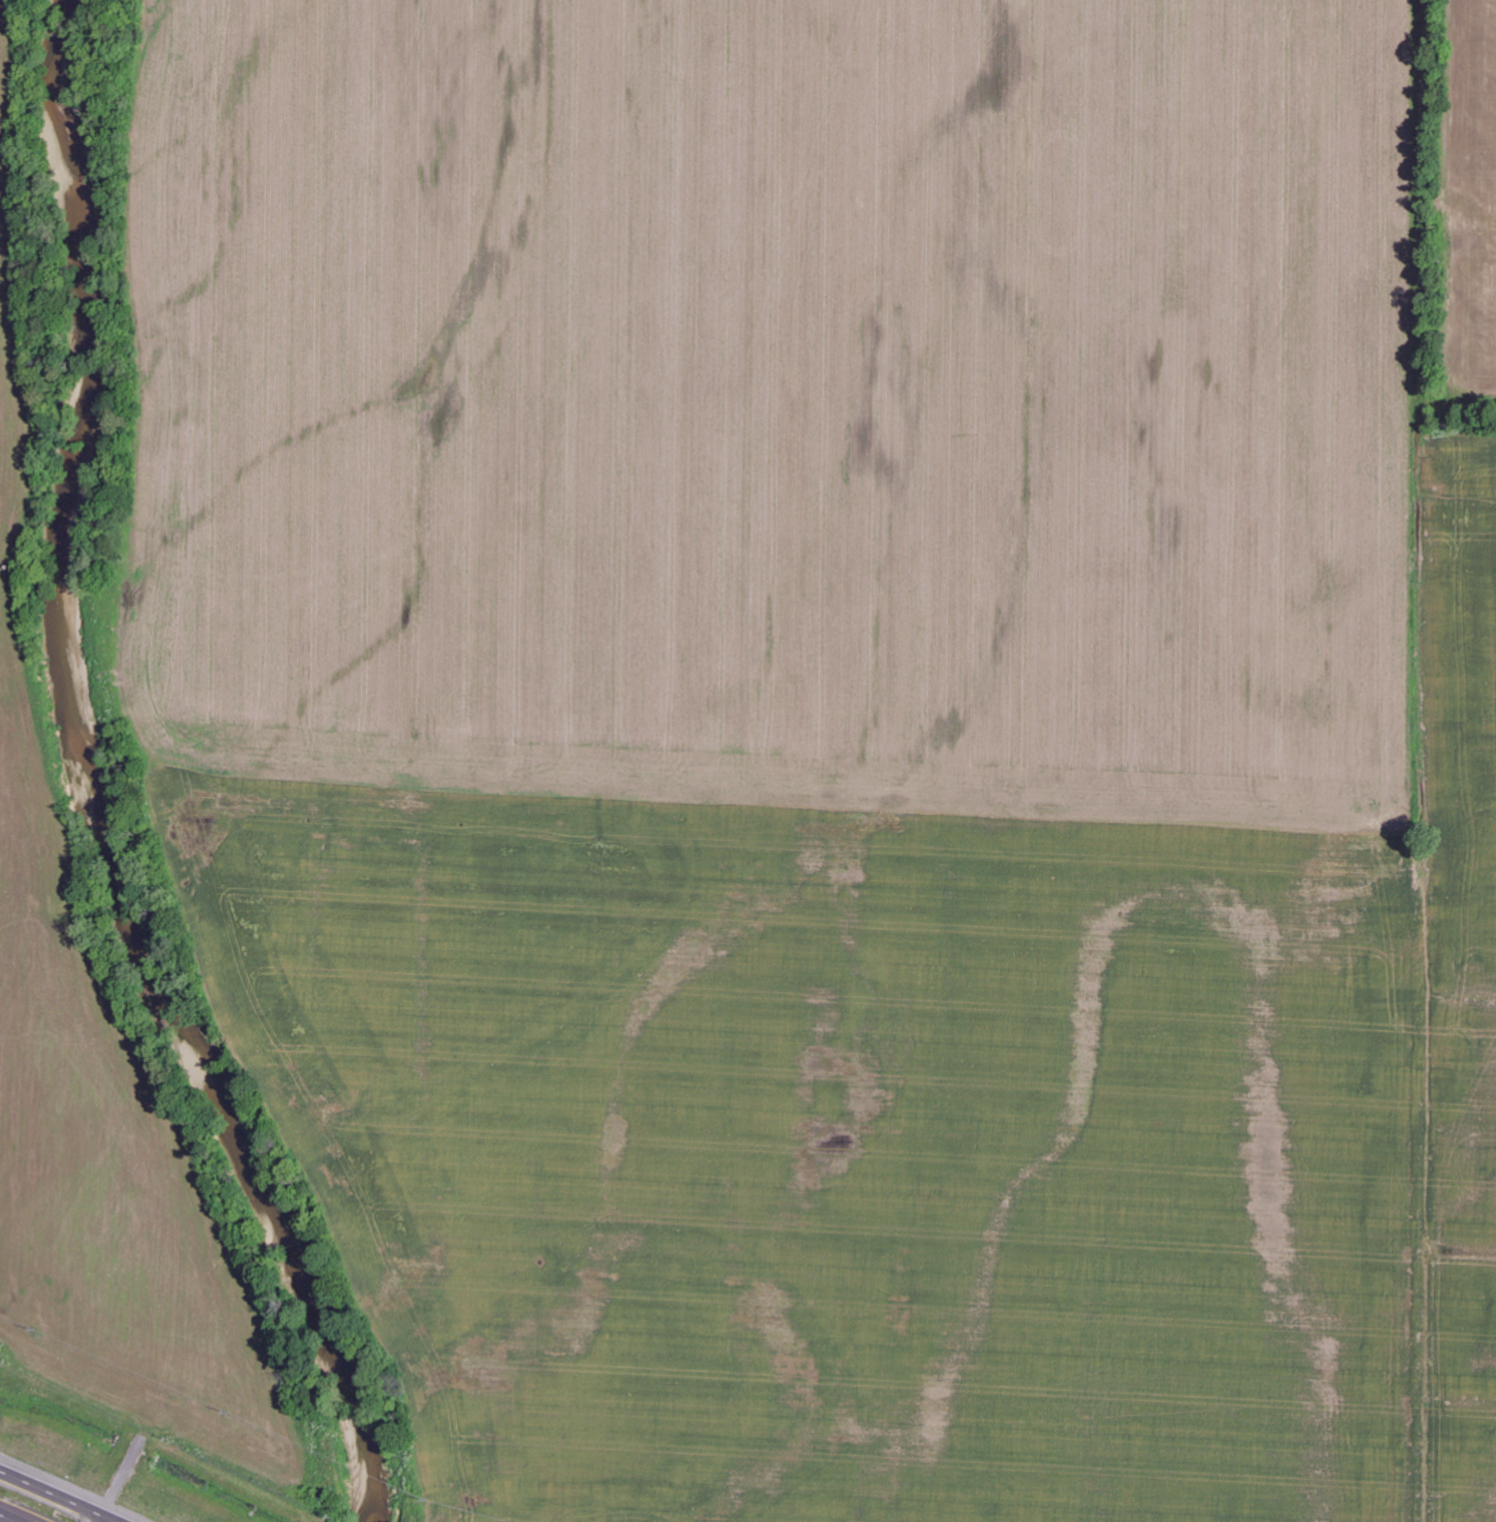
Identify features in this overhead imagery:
road: (56, 1497)
road: (4, 1519)
road: (97, 1519)

